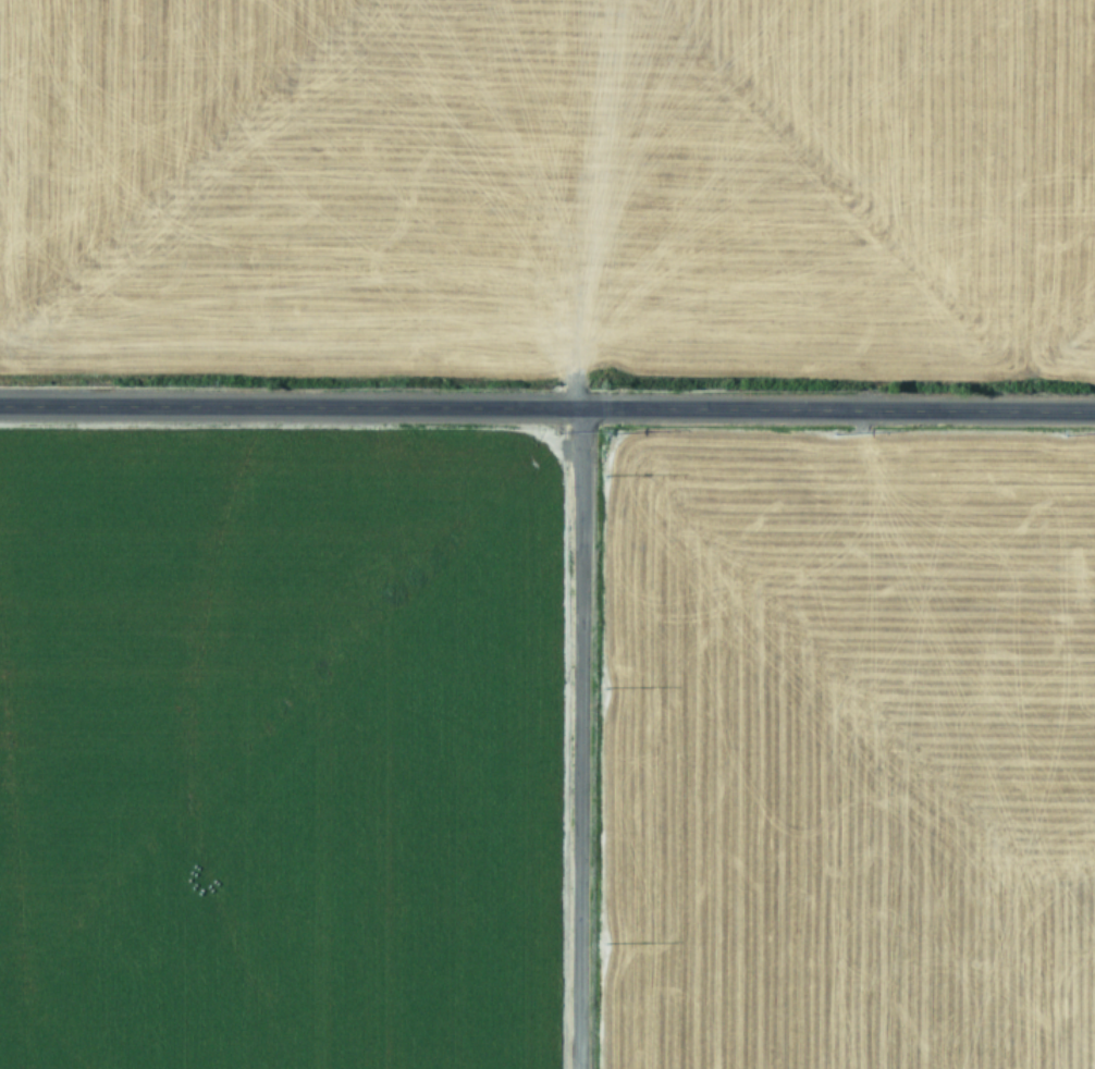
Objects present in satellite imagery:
crop: (549, 184)
road: (546, 409)
road: (576, 739)
crop: (847, 748)
crop: (272, 749)

